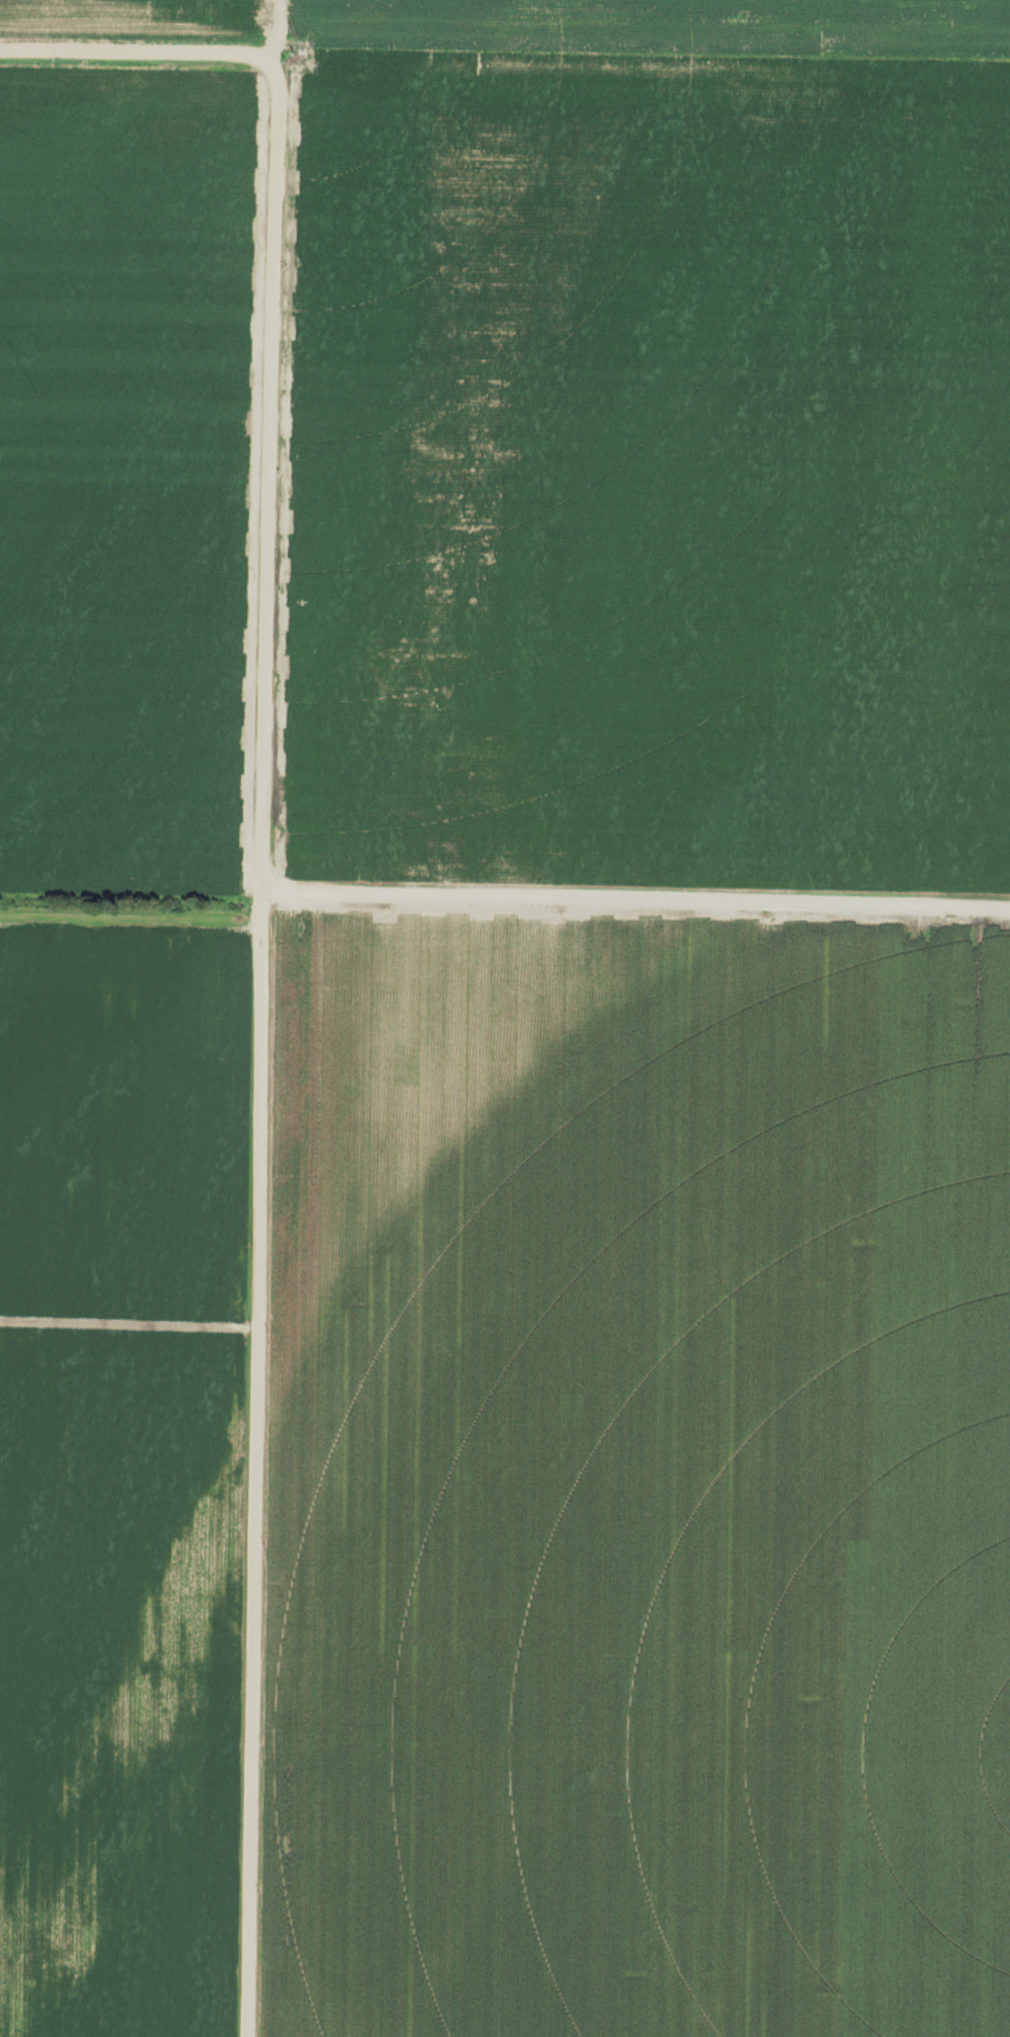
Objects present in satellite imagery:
road: (285, 32)
road: (137, 52)
road: (637, 899)
road: (262, 1048)

